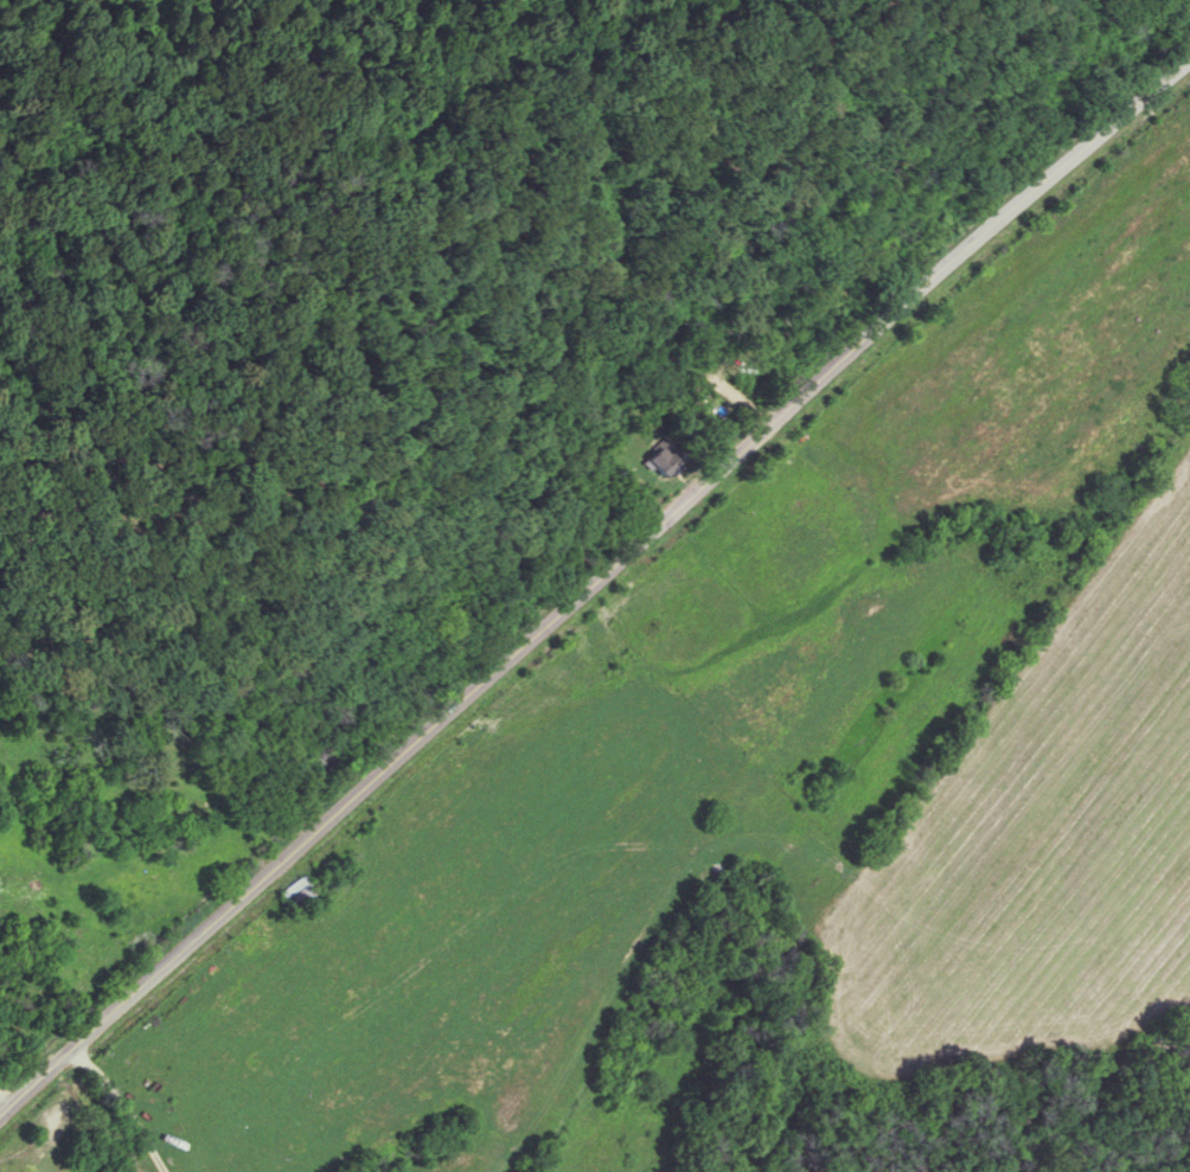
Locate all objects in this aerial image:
building: (651, 461)
road: (588, 576)
building: (290, 890)
road: (102, 1110)

